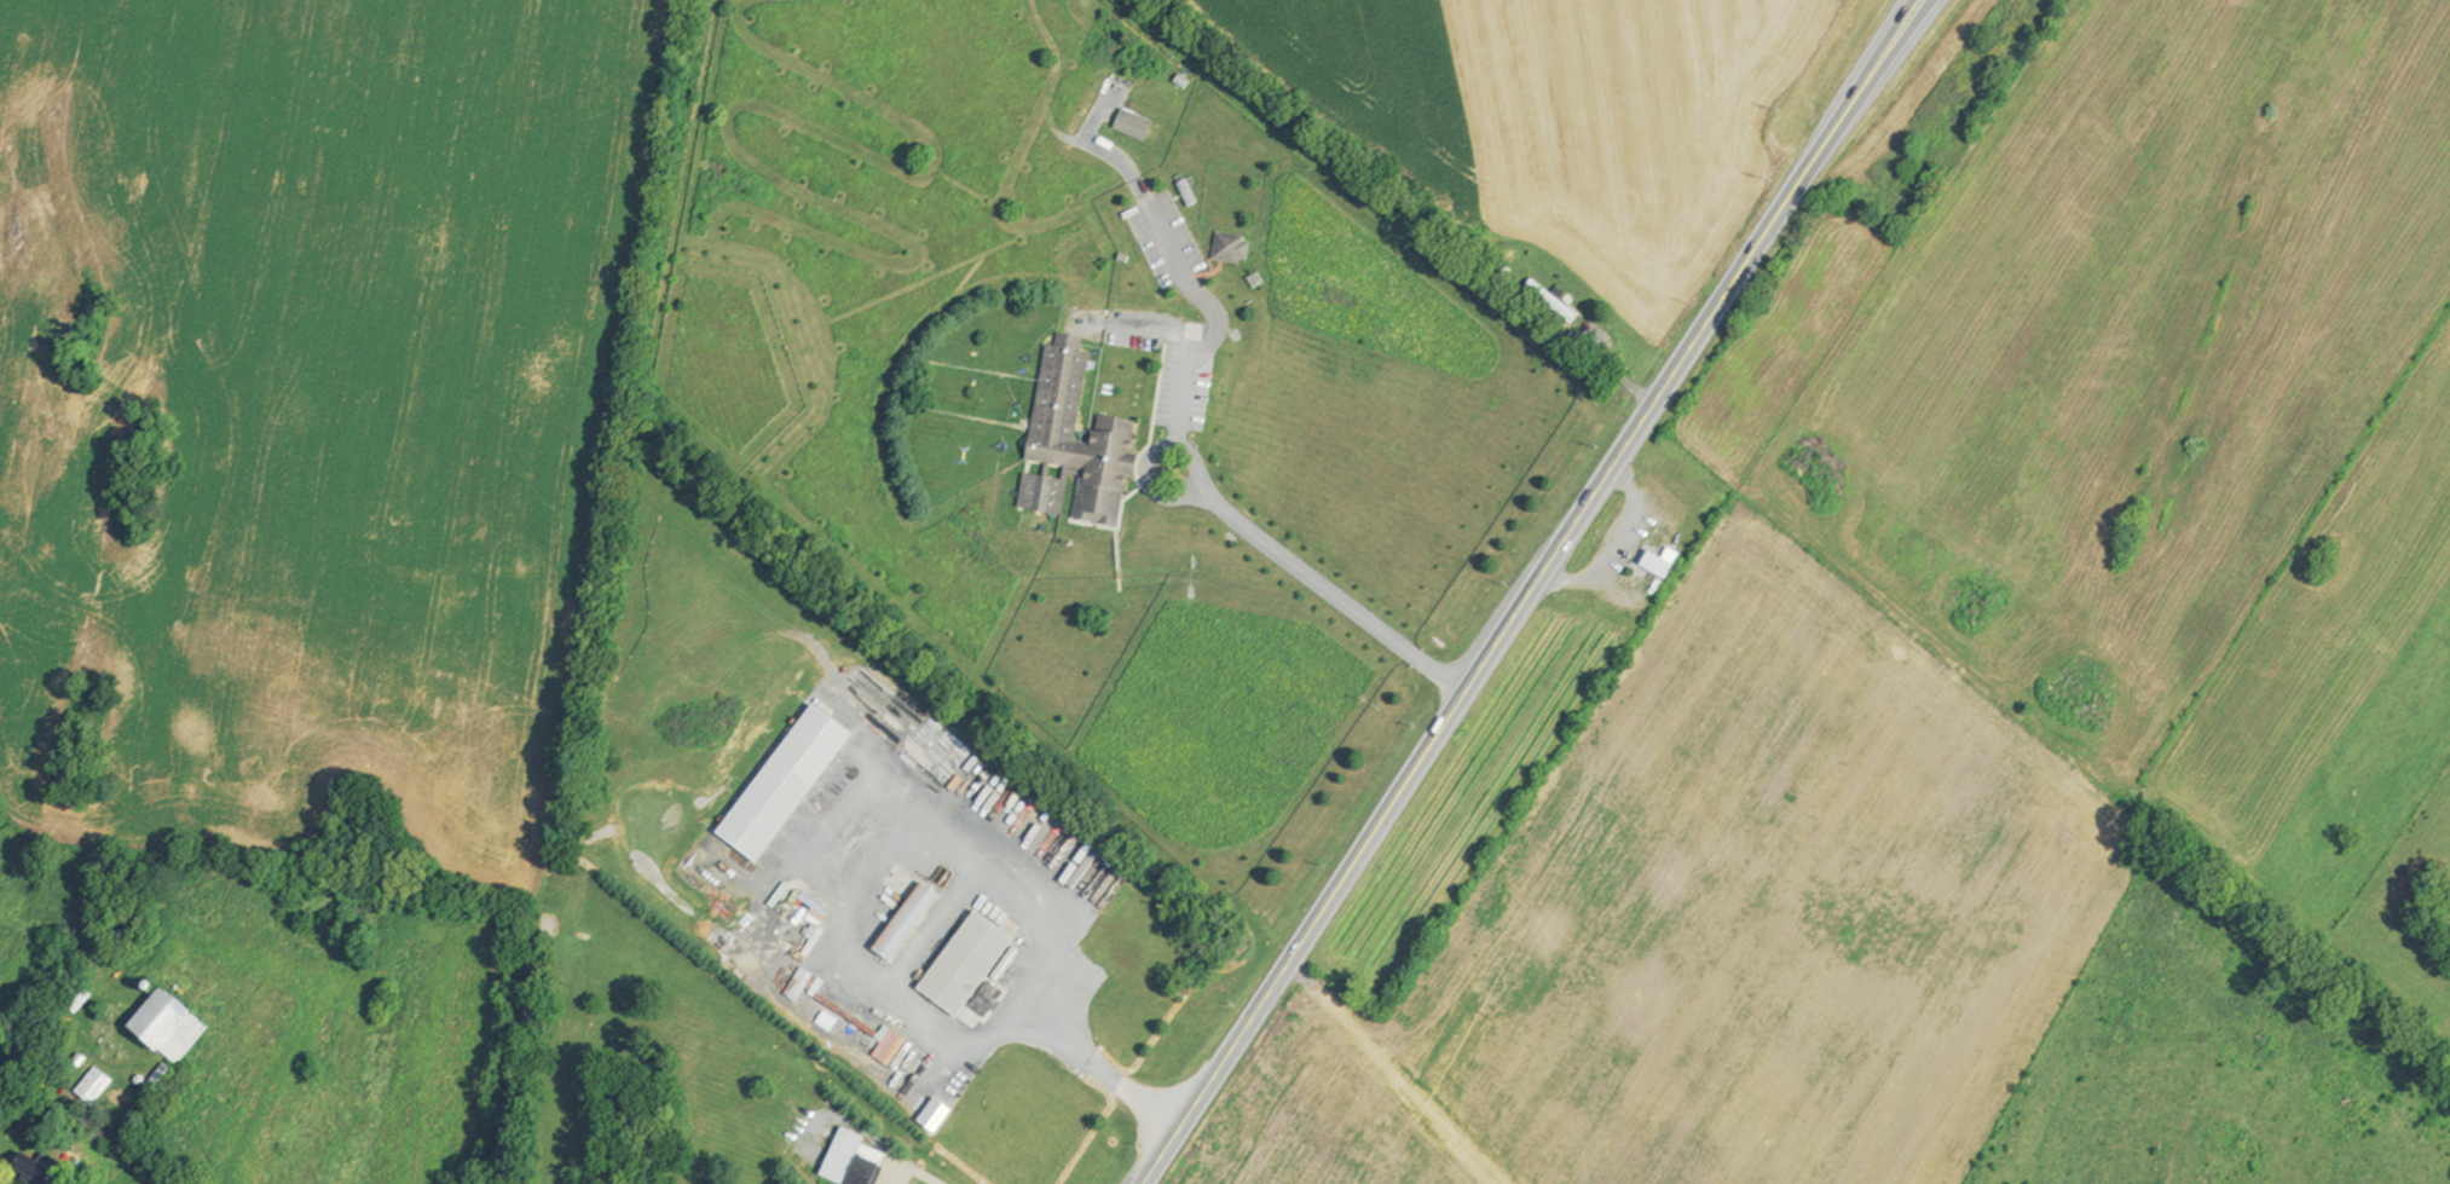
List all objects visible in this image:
road: (1912, 6)
road: (1913, 6)
building: (1232, 246)
building: (1092, 261)
building: (1555, 300)
road: (1160, 411)
building: (1082, 441)
building: (1664, 558)
road: (1524, 597)
road: (1426, 669)
road: (957, 828)
building: (913, 922)
building: (972, 964)
building: (179, 1026)
road: (1393, 1068)
building: (163, 1082)
building: (100, 1086)
building: (938, 1114)
building: (857, 1160)
building: (48, 1168)
road: (915, 1168)
building: (918, 1182)

